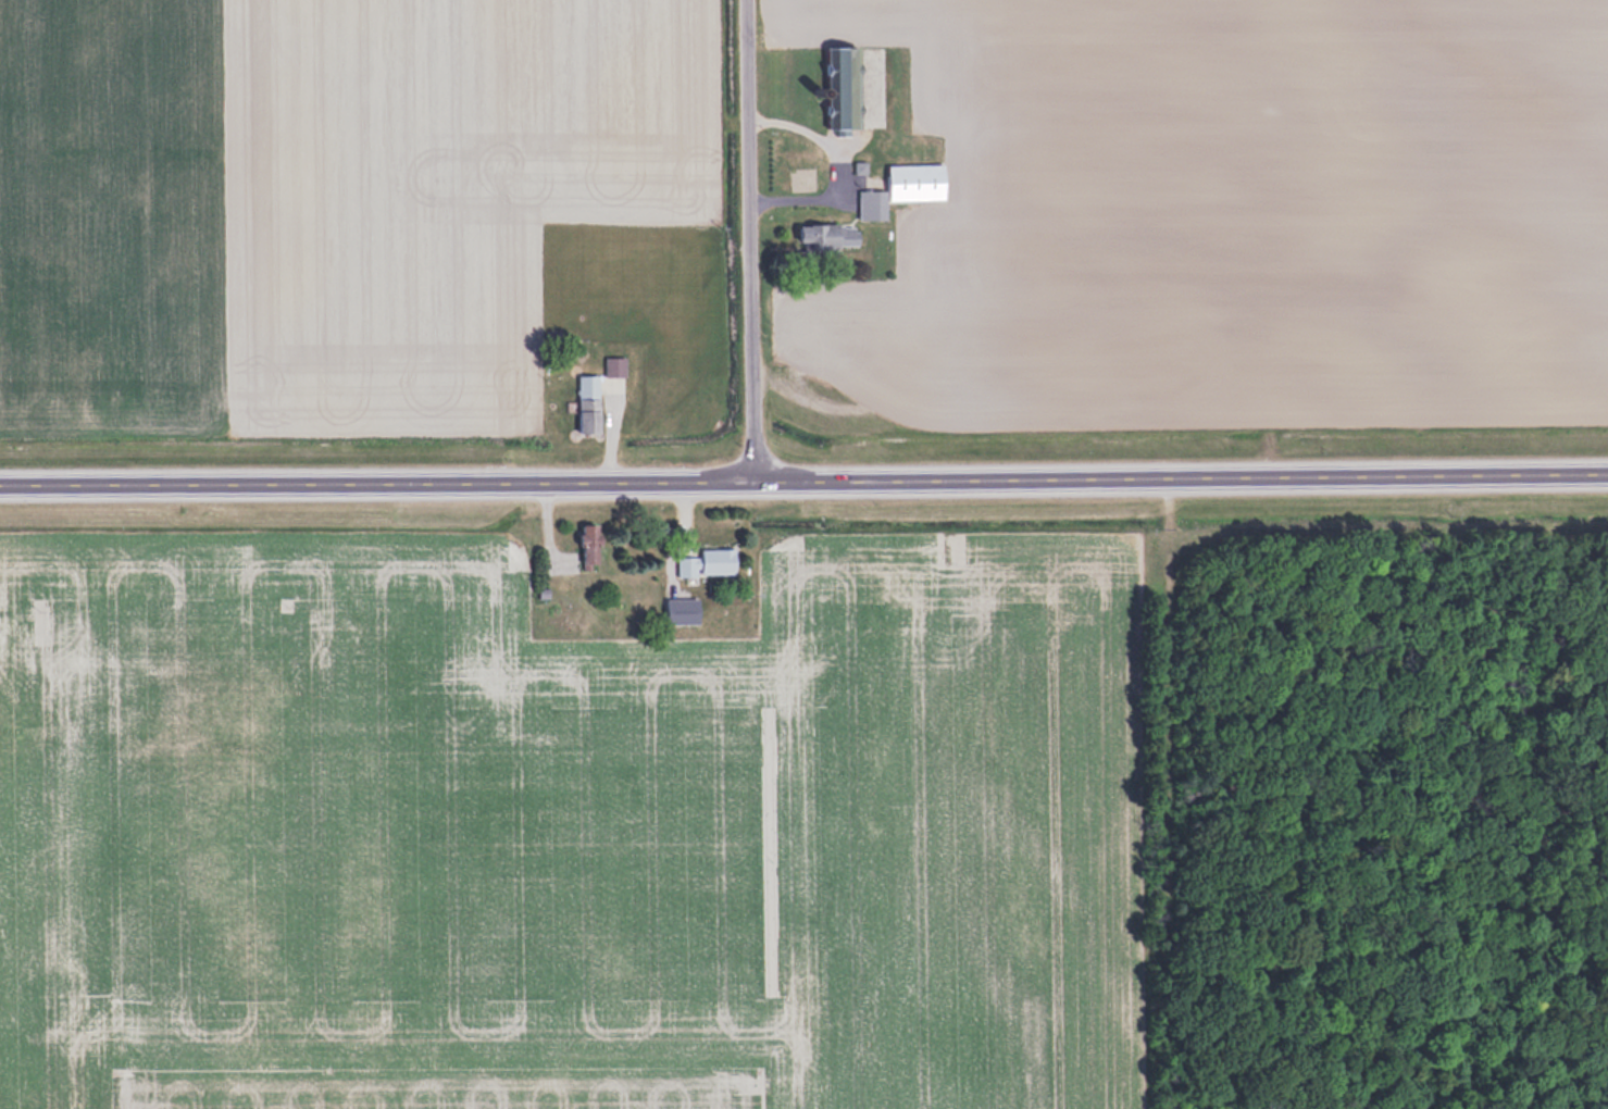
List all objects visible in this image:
building: (845, 88)
building: (777, 152)
road: (837, 169)
building: (905, 189)
building: (827, 237)
road: (749, 242)
building: (588, 406)
road: (1184, 481)
road: (379, 488)
building: (589, 546)
building: (707, 563)
building: (681, 611)

